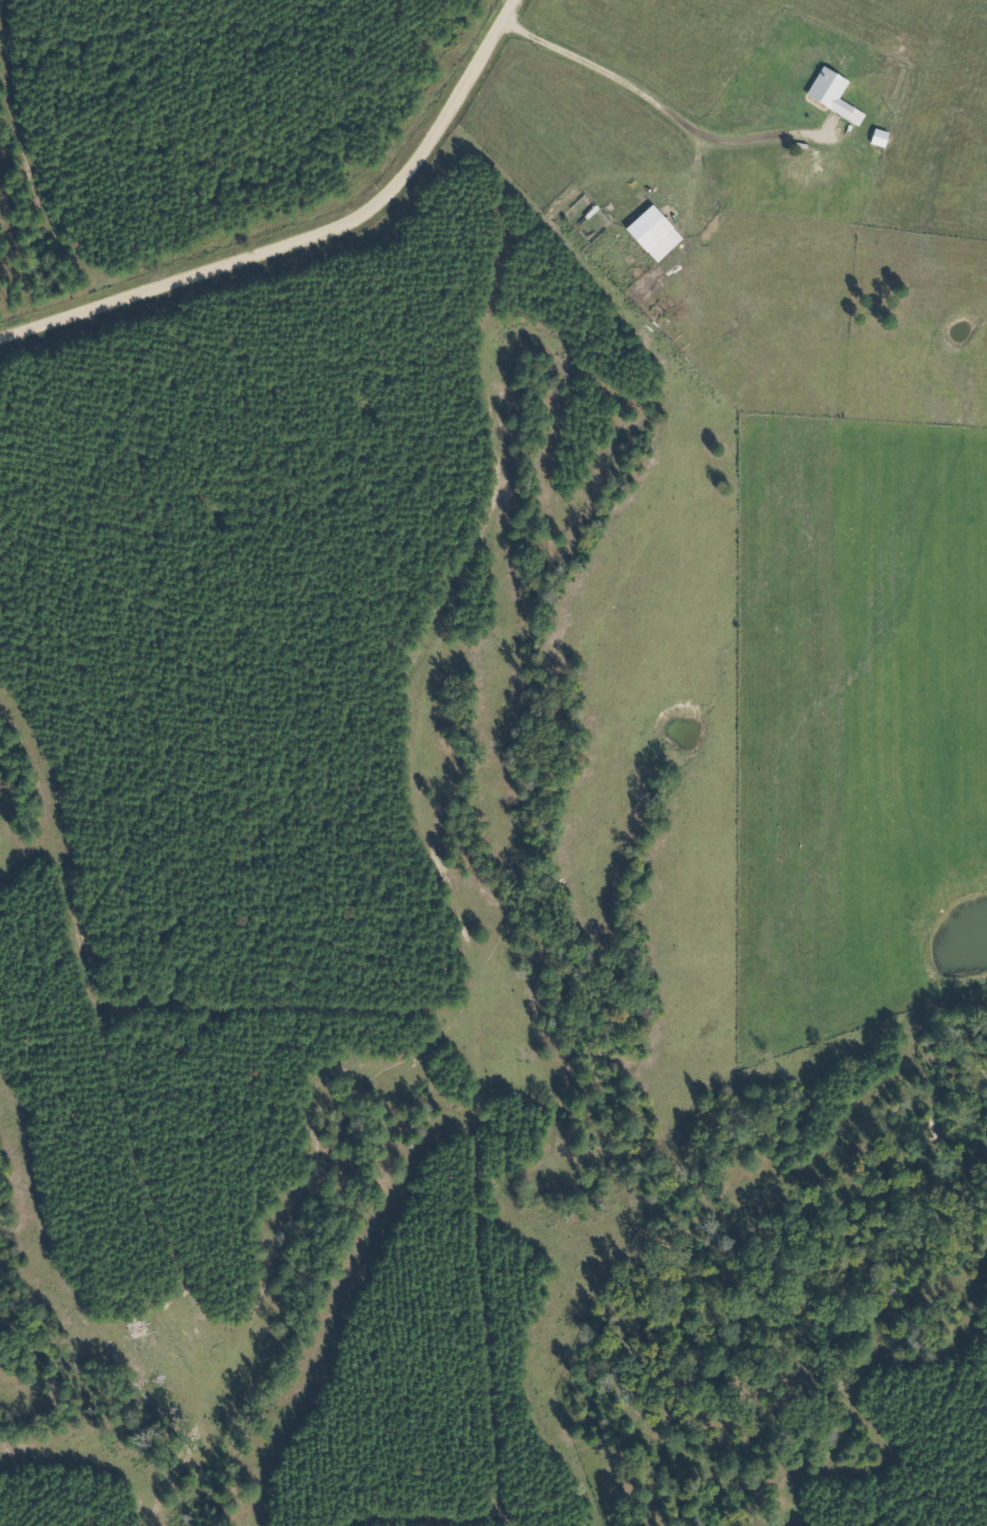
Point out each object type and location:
building: (837, 95)
building: (883, 138)
building: (658, 234)
road: (308, 237)

